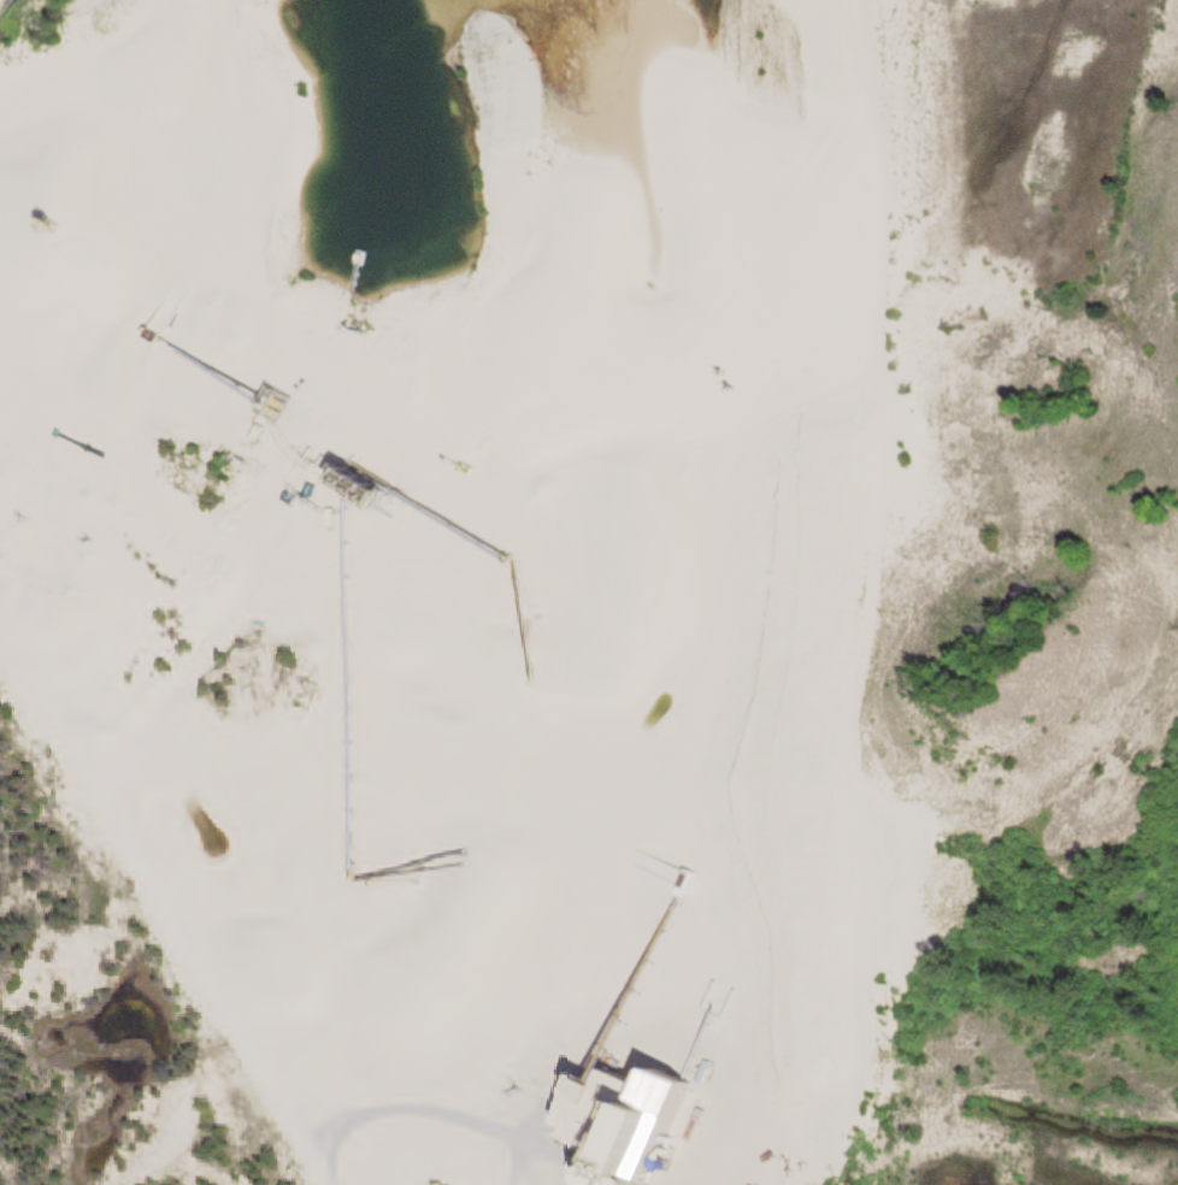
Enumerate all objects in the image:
park: (589, 592)

